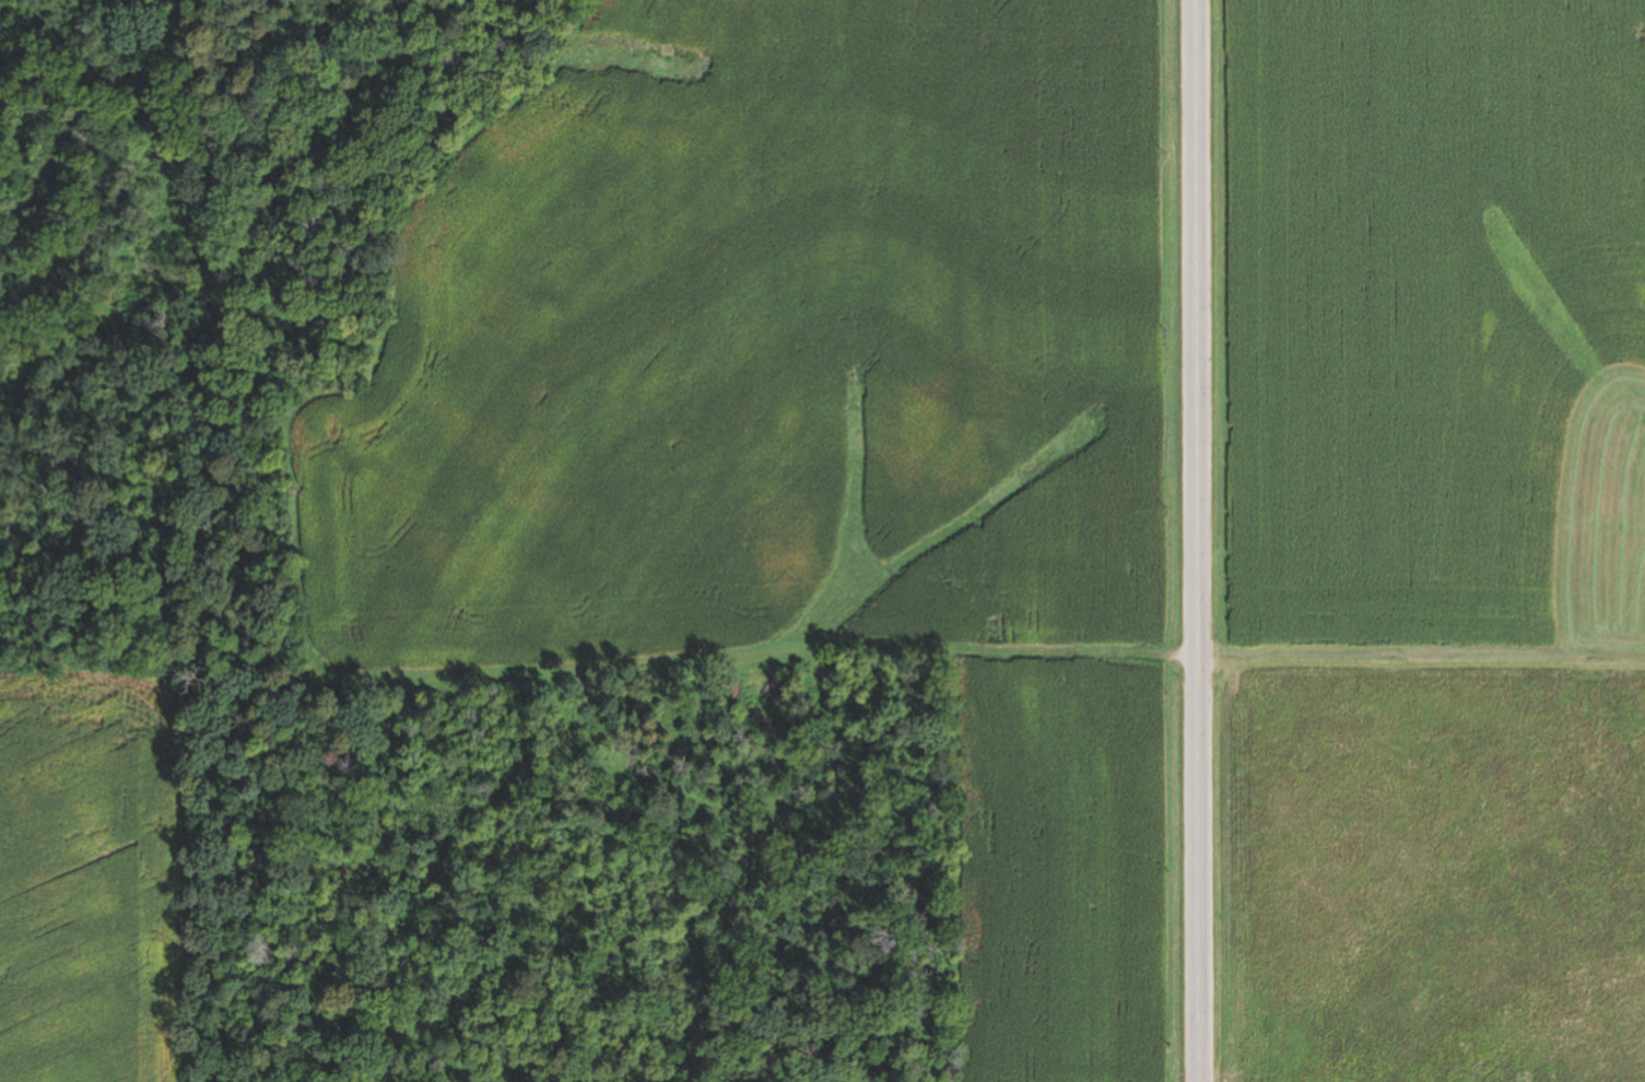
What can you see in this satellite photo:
road: (1202, 541)

